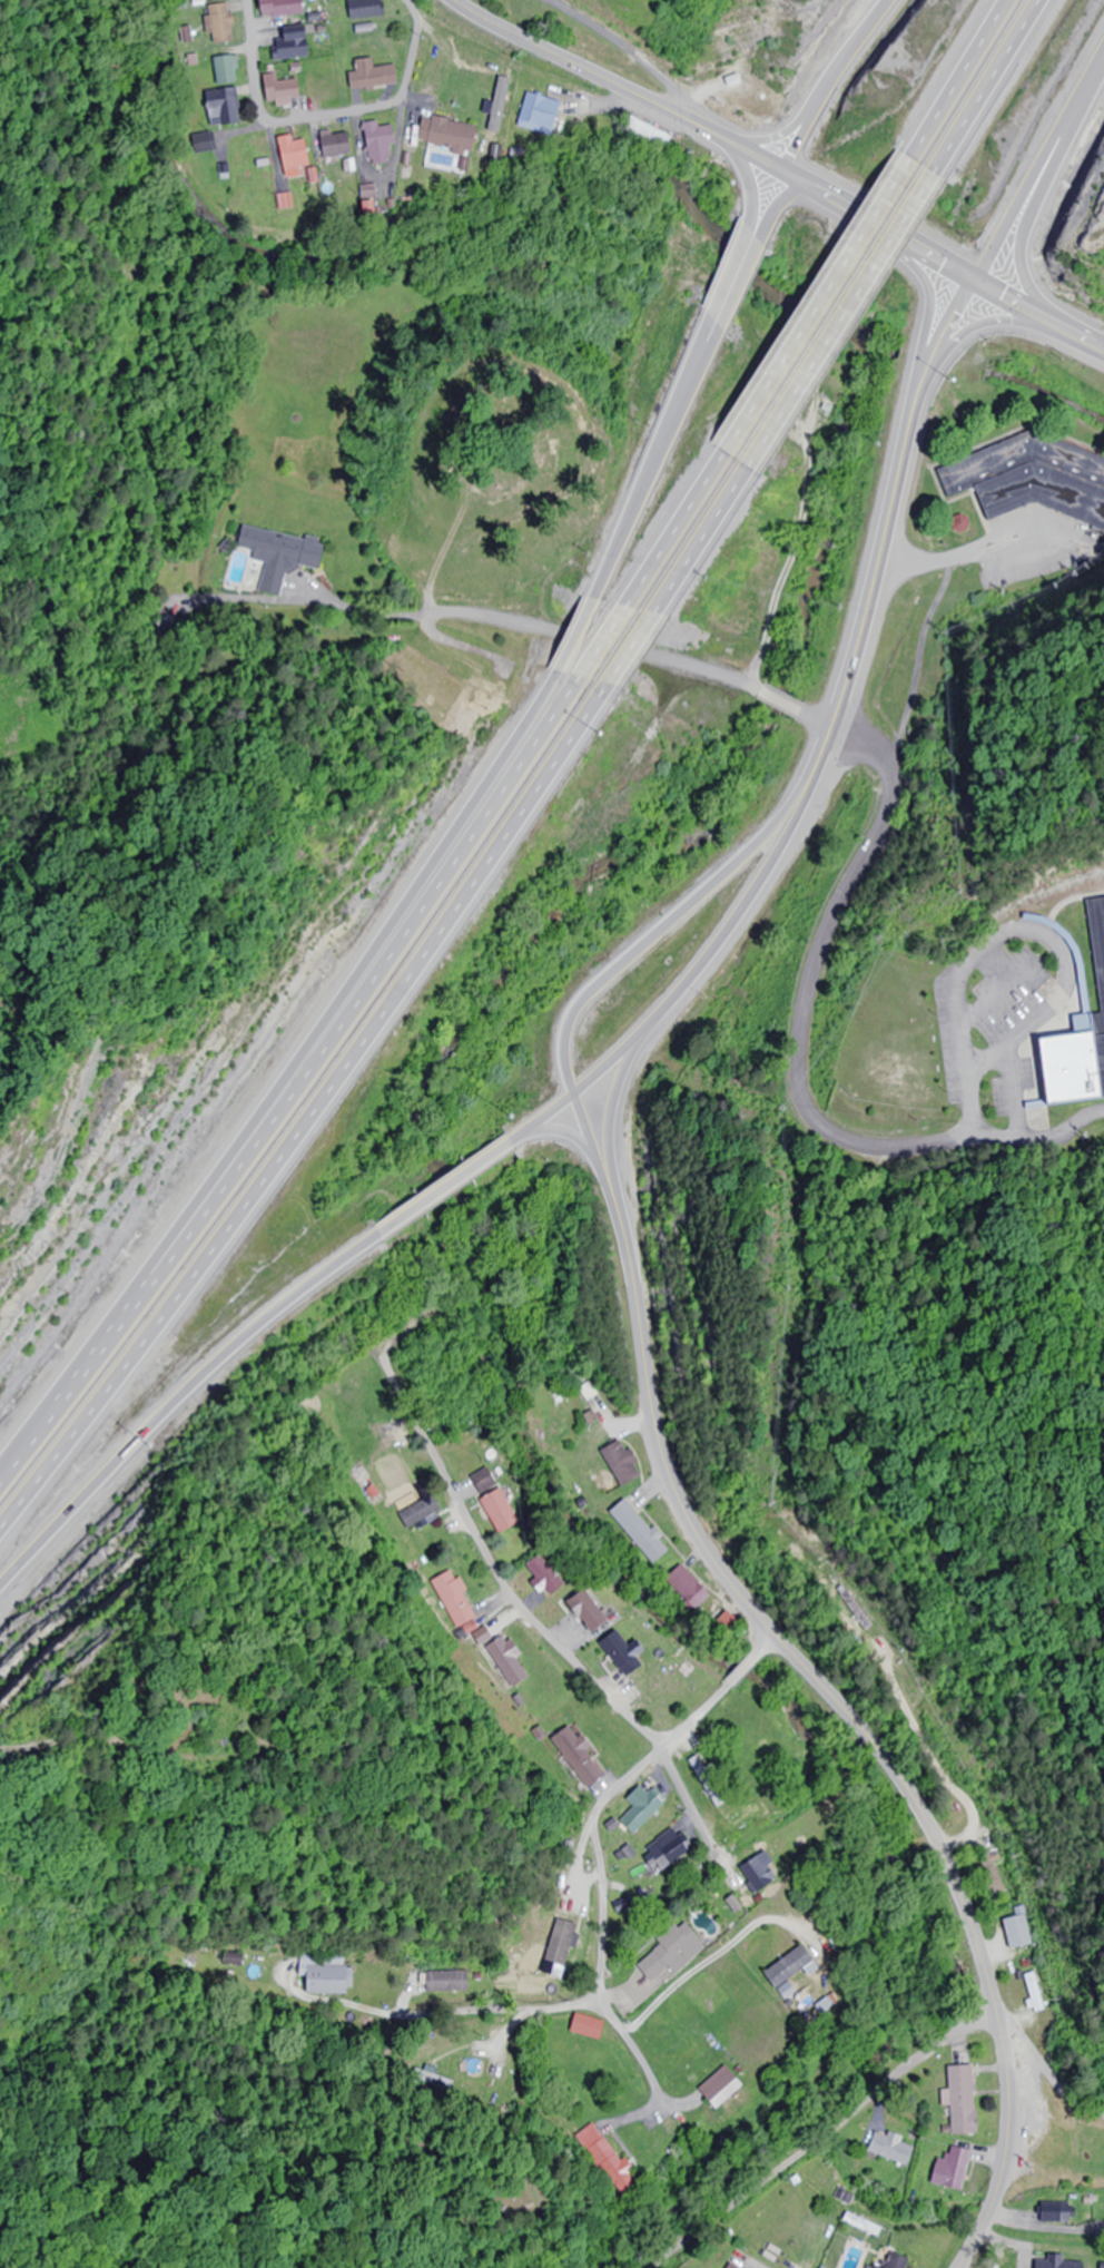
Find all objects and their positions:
building: (287, 8)
building: (367, 8)
building: (221, 22)
building: (295, 45)
building: (227, 70)
building: (375, 76)
building: (335, 82)
road: (829, 82)
road: (622, 86)
road: (975, 88)
building: (284, 91)
building: (225, 107)
building: (542, 115)
road: (325, 116)
building: (454, 136)
building: (653, 136)
building: (338, 144)
building: (383, 145)
building: (297, 156)
road: (1052, 178)
building: (286, 202)
road: (771, 205)
road: (868, 219)
road: (737, 282)
road: (1026, 307)
road: (837, 314)
building: (839, 315)
road: (966, 344)
road: (658, 467)
building: (1032, 478)
road: (694, 533)
building: (285, 550)
road: (575, 641)
road: (579, 641)
road: (614, 651)
road: (837, 721)
road: (511, 773)
road: (525, 778)
building: (1077, 978)
road: (800, 1008)
road: (1066, 1009)
road: (237, 1191)
road: (277, 1307)
building: (618, 1461)
building: (480, 1481)
building: (424, 1510)
building: (494, 1511)
building: (634, 1529)
building: (539, 1574)
building: (683, 1588)
building: (459, 1603)
building: (580, 1607)
road: (533, 1619)
building: (724, 1626)
building: (614, 1650)
road: (758, 1652)
building: (511, 1663)
road: (818, 1683)
road: (663, 1742)
building: (580, 1756)
building: (637, 1809)
building: (661, 1850)
building: (989, 1872)
building: (753, 1877)
road: (603, 1908)
building: (1015, 1932)
building: (566, 1946)
building: (674, 1954)
building: (785, 1963)
building: (331, 1975)
building: (452, 1983)
building: (1035, 1992)
road: (515, 2010)
building: (591, 2028)
road: (634, 2050)
road: (1044, 2068)
building: (722, 2084)
building: (963, 2099)
road: (821, 2137)
building: (894, 2148)
building: (609, 2160)
building: (955, 2167)
building: (1057, 2212)
road: (1042, 2221)
building: (895, 2261)
building: (1057, 2261)
building: (735, 2266)
building: (1101, 2267)

